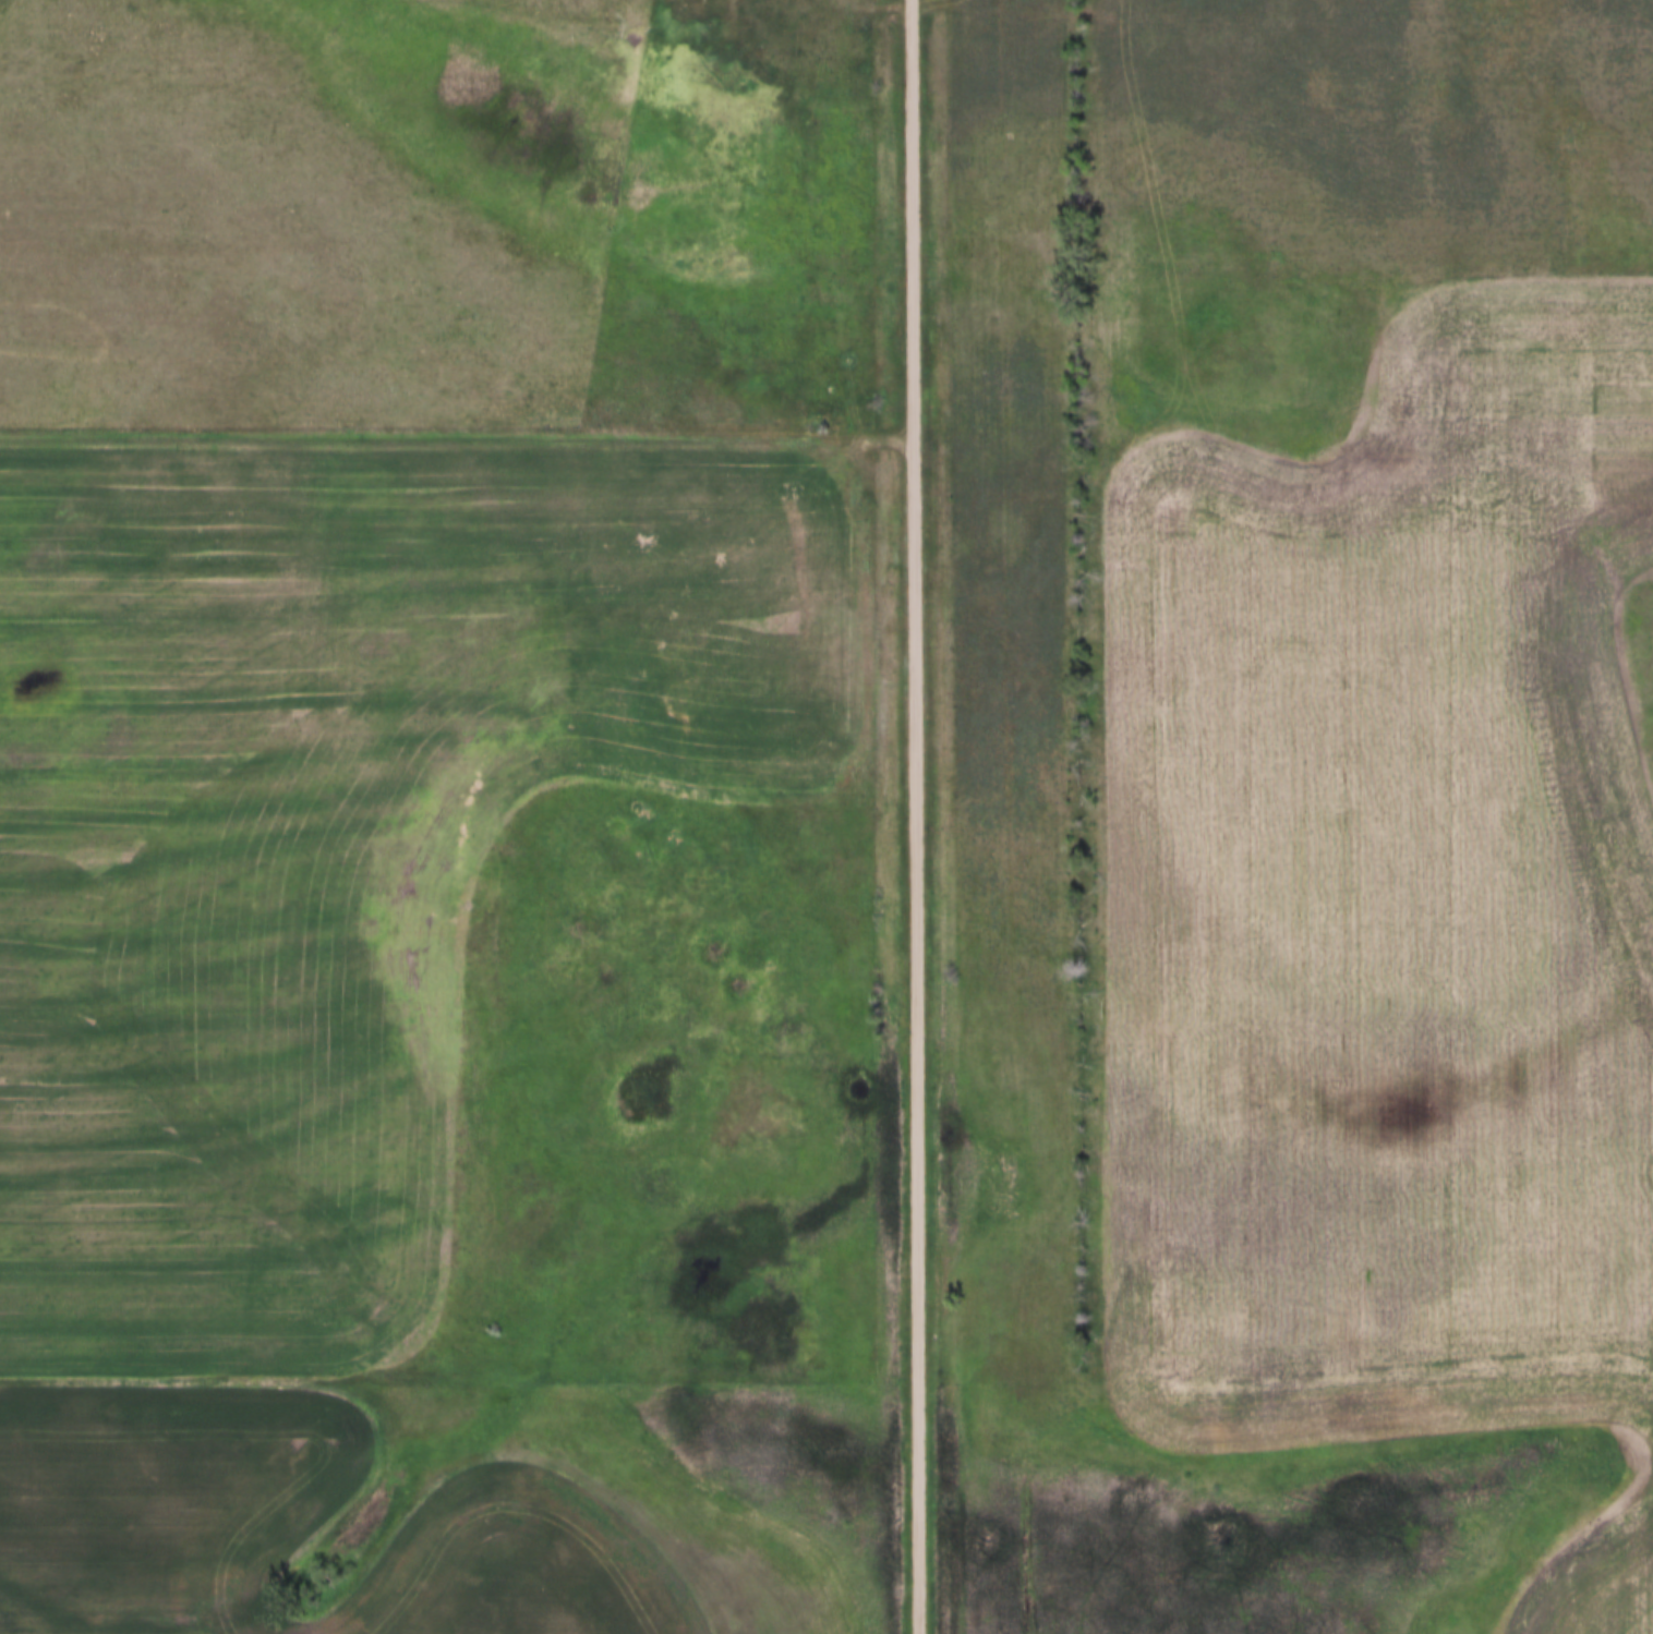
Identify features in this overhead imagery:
road: (1030, 8)
road: (916, 816)

